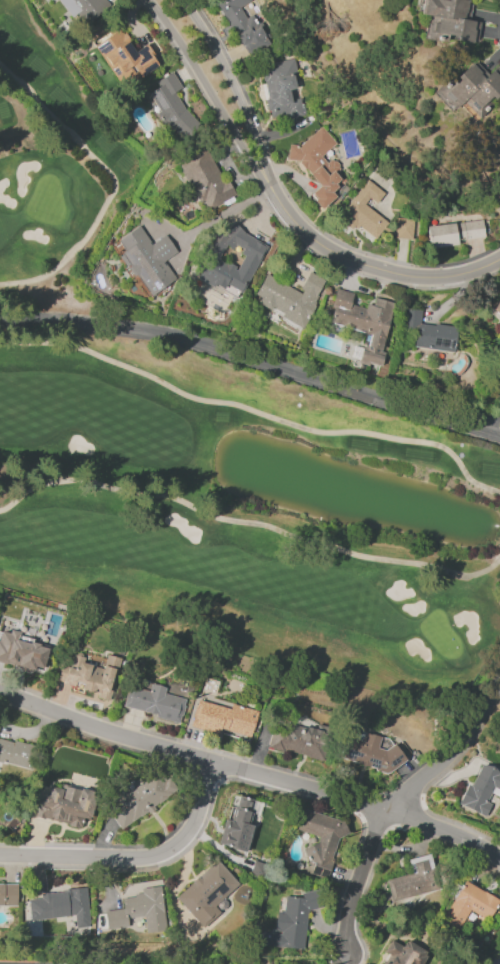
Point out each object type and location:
building: (83, 7)
building: (236, 14)
building: (450, 20)
building: (251, 40)
building: (125, 57)
building: (471, 88)
road: (236, 89)
building: (281, 89)
road: (209, 92)
building: (173, 108)
building: (316, 165)
building: (204, 178)
road: (114, 184)
building: (363, 211)
road: (223, 213)
building: (403, 228)
building: (454, 233)
building: (147, 260)
building: (248, 263)
road: (370, 267)
building: (289, 298)
building: (499, 299)
building: (497, 309)
building: (362, 322)
building: (499, 322)
building: (429, 332)
road: (253, 361)
road: (254, 413)
park: (212, 450)
road: (247, 525)
building: (28, 642)
building: (93, 674)
building: (154, 703)
building: (226, 718)
building: (0, 721)
building: (299, 741)
building: (368, 751)
building: (16, 754)
road: (251, 772)
building: (481, 790)
building: (141, 800)
road: (393, 804)
building: (66, 806)
building: (252, 833)
building: (321, 839)
road: (136, 858)
building: (414, 879)
building: (206, 893)
building: (8, 895)
building: (469, 905)
building: (62, 906)
building: (146, 908)
building: (294, 920)
building: (404, 953)

